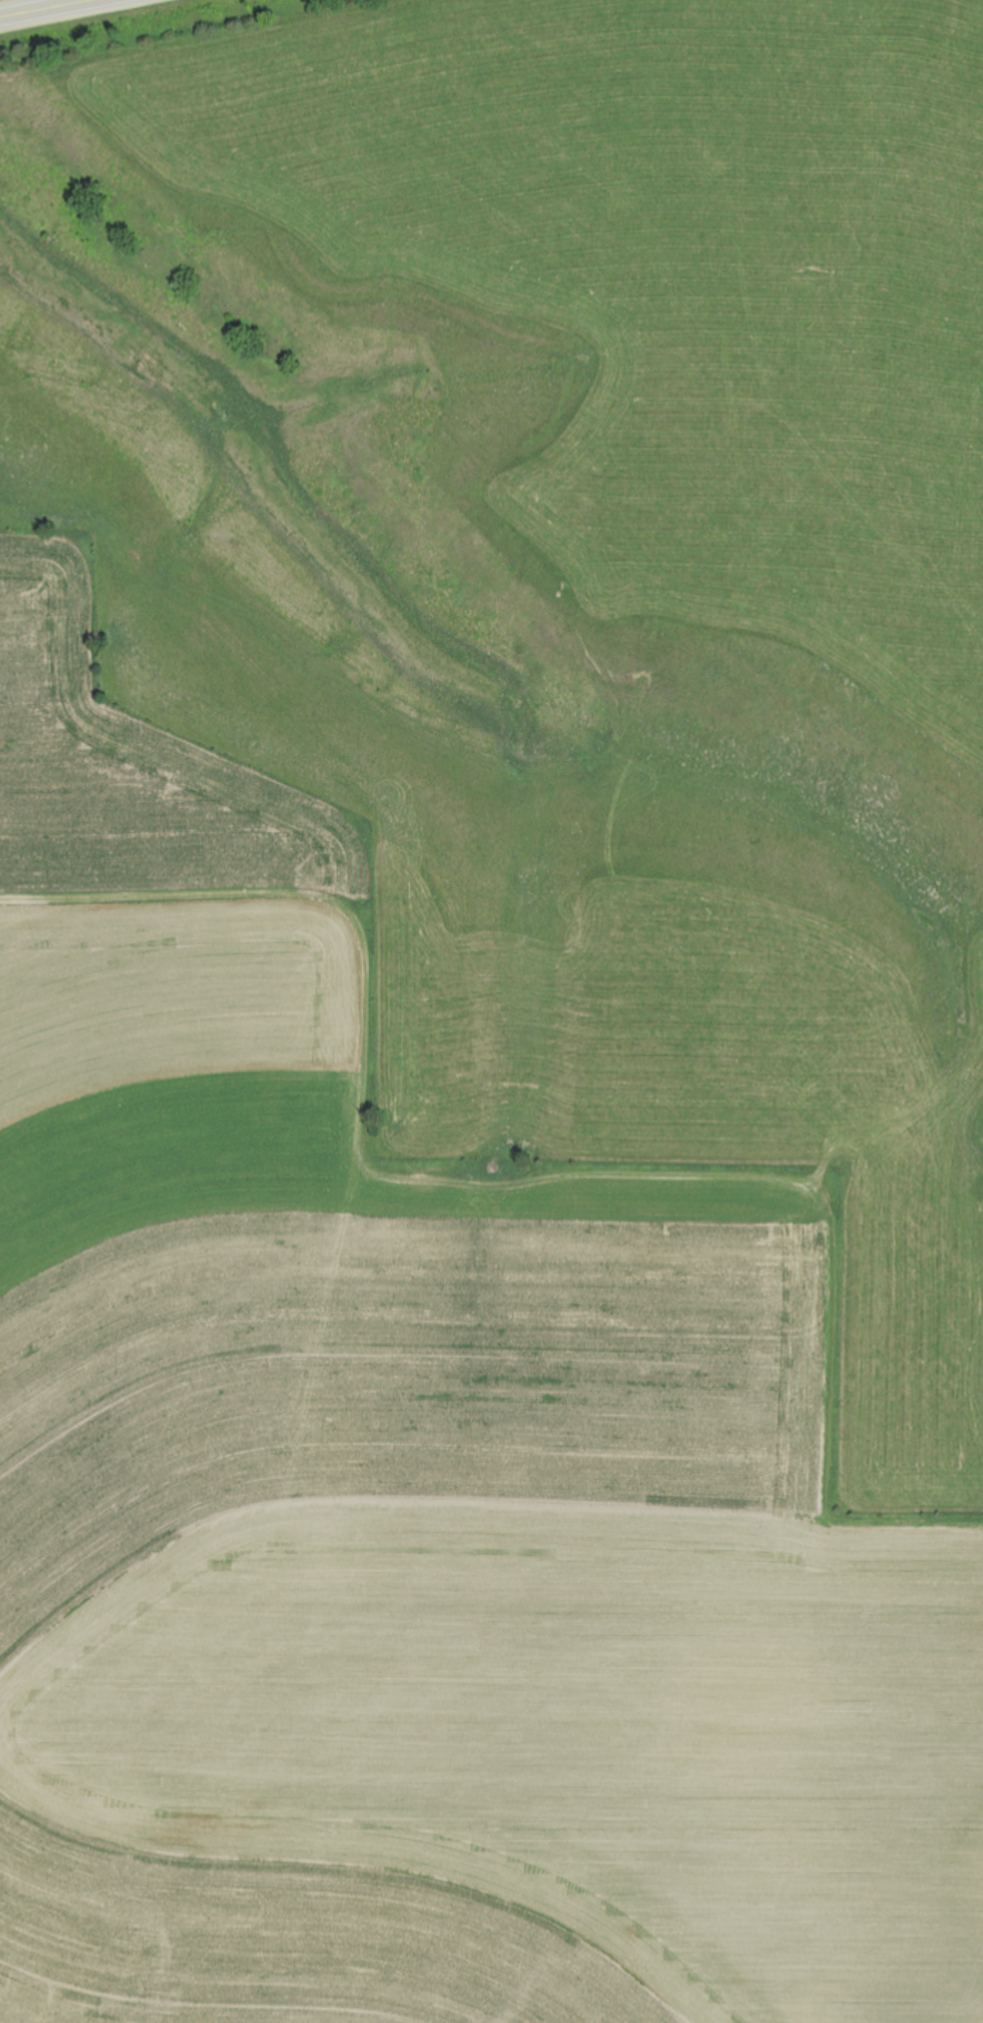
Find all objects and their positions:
road: (51, 9)
crop: (491, 1012)

